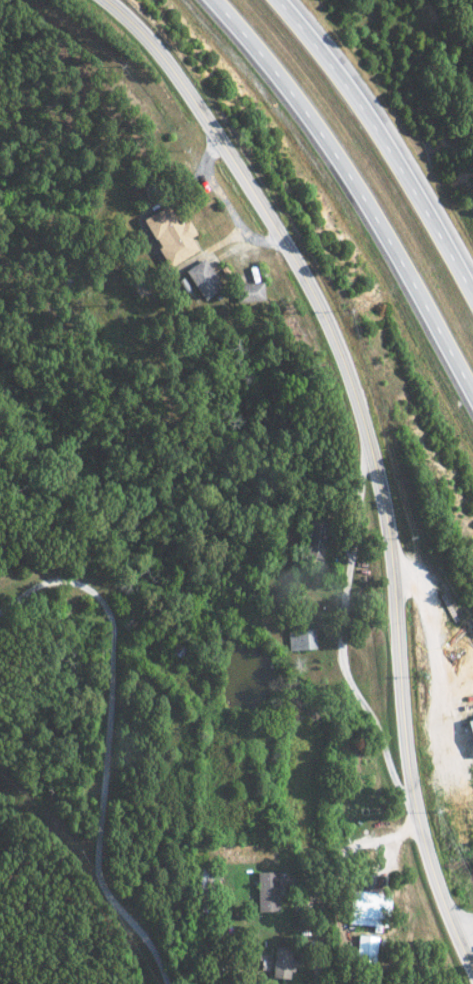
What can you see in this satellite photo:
road: (382, 147)
road: (355, 189)
building: (167, 236)
building: (199, 279)
building: (248, 292)
road: (367, 450)
building: (312, 539)
building: (299, 639)
building: (469, 733)
road: (105, 744)
road: (338, 859)
building: (264, 890)
road: (466, 932)
building: (279, 961)

